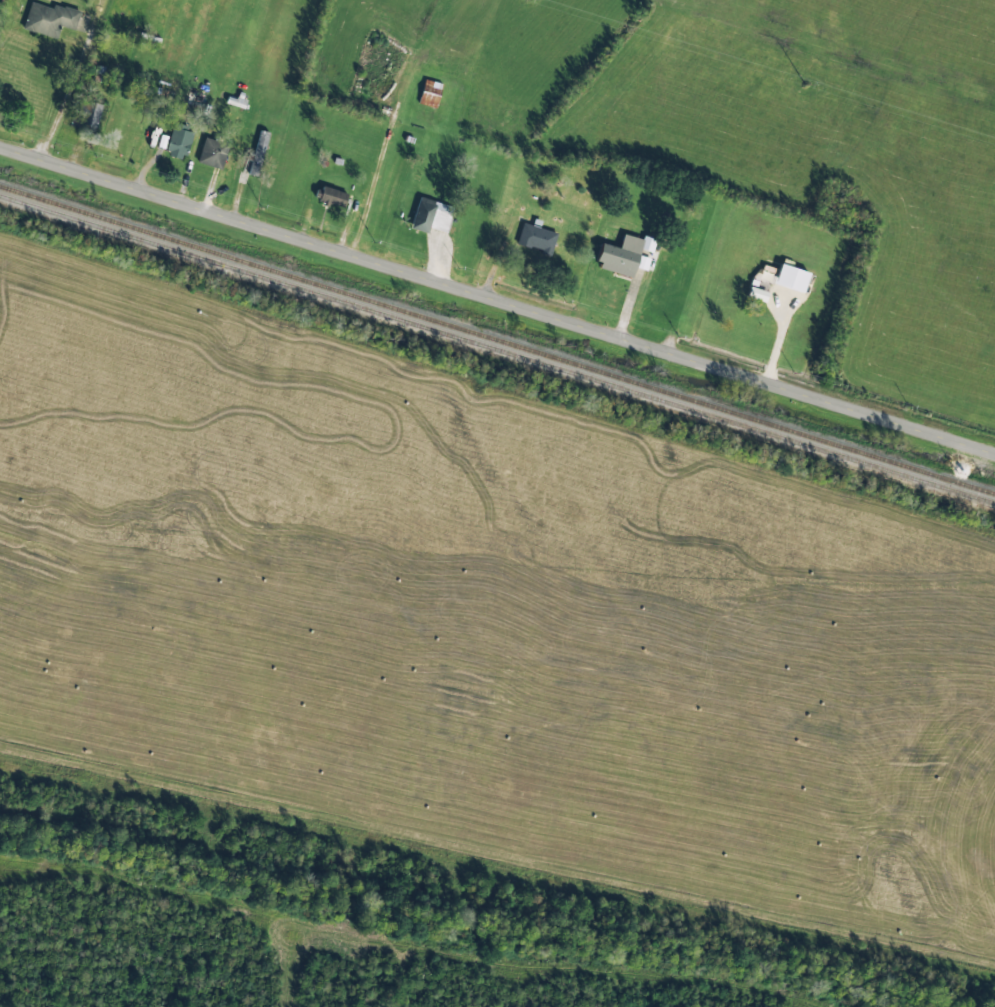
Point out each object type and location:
building: (49, 19)
building: (430, 93)
building: (194, 98)
building: (86, 117)
building: (178, 143)
building: (212, 153)
building: (258, 153)
building: (332, 198)
building: (431, 216)
building: (536, 238)
building: (623, 255)
building: (791, 278)
road: (497, 298)
railway: (497, 340)
railway: (497, 350)

